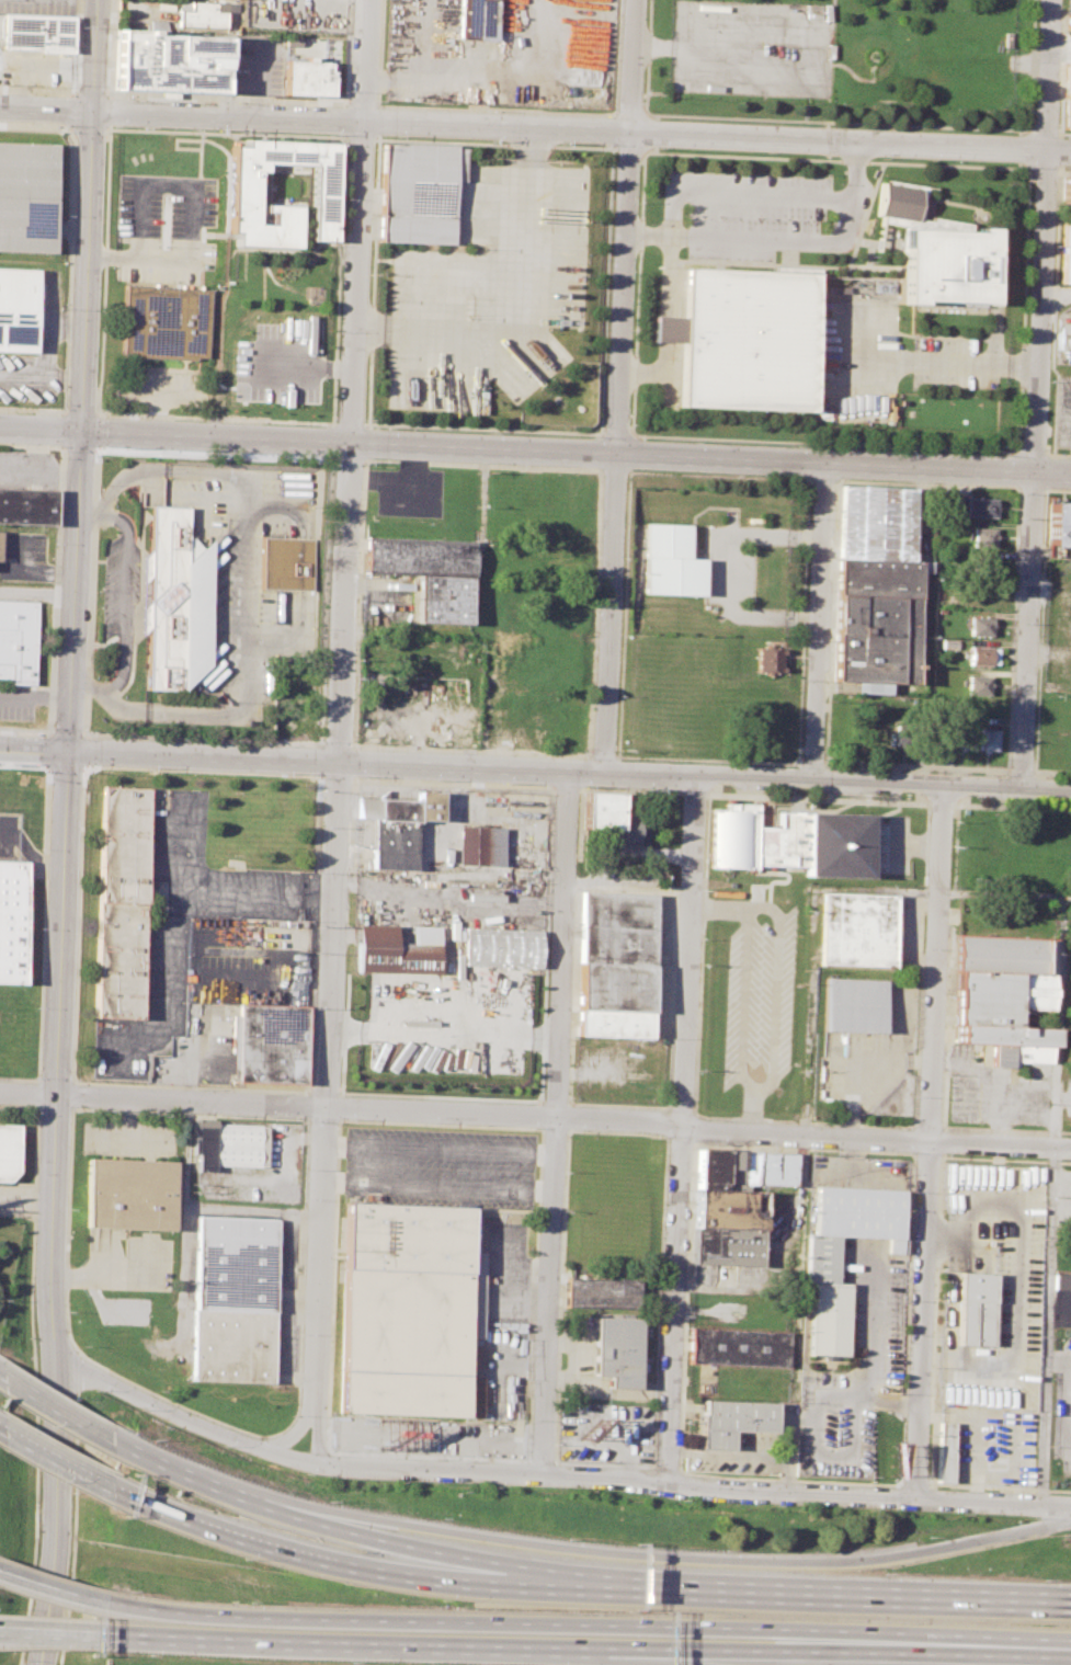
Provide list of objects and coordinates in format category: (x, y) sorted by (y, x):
parking lot: (39, 5)
building: (198, 12)
parking lot: (295, 14)
building: (476, 20)
building: (1069, 22)
building: (37, 34)
road: (110, 47)
road: (659, 47)
parking lot: (753, 49)
parking lot: (501, 53)
road: (96, 54)
road: (346, 54)
road: (378, 54)
road: (615, 57)
road: (646, 57)
building: (168, 62)
road: (1030, 65)
road: (1061, 71)
building: (309, 77)
road: (819, 79)
road: (78, 82)
road: (89, 91)
road: (225, 99)
building: (1068, 99)
road: (361, 104)
road: (46, 106)
road: (494, 111)
road: (628, 115)
road: (342, 119)
road: (376, 122)
road: (835, 122)
street lamp: (112, 126)
road: (106, 128)
road: (582, 129)
road: (1044, 130)
street lamp: (65, 132)
road: (342, 134)
road: (270, 135)
road: (105, 136)
road: (360, 137)
road: (236, 140)
road: (107, 142)
road: (493, 142)
road: (174, 144)
road: (627, 148)
road: (198, 155)
road: (833, 160)
road: (1039, 169)
road: (1055, 170)
road: (269, 182)
road: (164, 187)
building: (246, 187)
building: (1064, 190)
building: (418, 191)
road: (224, 192)
road: (854, 194)
building: (25, 196)
road: (671, 202)
parking lot: (747, 212)
street lamp: (65, 214)
road: (304, 227)
parking lot: (163, 228)
road: (228, 235)
road: (202, 238)
road: (324, 243)
building: (936, 249)
road: (267, 250)
building: (1064, 252)
road: (138, 260)
road: (312, 261)
road: (88, 270)
road: (261, 273)
road: (335, 277)
road: (198, 280)
road: (371, 281)
parking lot: (488, 289)
road: (605, 290)
road: (636, 293)
road: (508, 295)
road: (219, 297)
road: (666, 301)
building: (15, 308)
street lamp: (64, 308)
road: (1051, 316)
building: (162, 322)
building: (670, 329)
road: (995, 335)
road: (47, 337)
building: (749, 340)
road: (133, 361)
parking lot: (280, 363)
road: (893, 363)
road: (182, 365)
road: (303, 366)
parking lot: (950, 366)
road: (159, 368)
road: (42, 378)
road: (620, 386)
parking lot: (158, 390)
road: (158, 395)
road: (1036, 395)
street lamp: (99, 409)
road: (32, 410)
road: (78, 412)
parking lot: (1061, 412)
road: (155, 414)
road: (214, 418)
road: (347, 423)
street lamp: (386, 427)
road: (482, 429)
road: (42, 431)
traffic signals: (83, 432)
road: (616, 434)
street lamp: (593, 436)
road: (330, 440)
street lamp: (695, 441)
road: (365, 442)
street lamp: (796, 446)
street lamp: (58, 447)
road: (79, 448)
road: (964, 448)
street lamp: (153, 451)
street lamp: (904, 451)
road: (1034, 453)
street lamp: (247, 454)
road: (213, 455)
road: (577, 455)
street lamp: (1002, 455)
road: (330, 457)
road: (365, 458)
road: (331, 459)
road: (349, 459)
road: (480, 465)
road: (613, 470)
road: (717, 475)
road: (823, 481)
street lamp: (101, 484)
road: (926, 486)
road: (1032, 490)
street lamp: (1019, 495)
building: (26, 505)
building: (973, 509)
building: (878, 524)
building: (1057, 525)
building: (985, 538)
road: (480, 543)
street lamp: (53, 545)
building: (558, 554)
parking lot: (23, 556)
building: (670, 560)
road: (23, 561)
building: (982, 563)
building: (288, 564)
parking lot: (250, 570)
road: (56, 571)
building: (428, 573)
road: (728, 573)
parking lot: (121, 584)
road: (56, 585)
road: (246, 586)
road: (22, 589)
road: (75, 590)
street lamp: (96, 590)
road: (125, 597)
building: (175, 603)
road: (1041, 619)
building: (878, 623)
street lamp: (1015, 623)
road: (817, 624)
parking lot: (1057, 624)
building: (982, 628)
building: (16, 639)
building: (984, 658)
building: (772, 661)
street lamp: (93, 666)
building: (980, 686)
building: (377, 688)
street lamp: (617, 696)
road: (35, 697)
street lamp: (228, 700)
parking lot: (16, 704)
street lamp: (146, 722)
street lamp: (89, 731)
road: (340, 731)
road: (68, 733)
building: (876, 734)
building: (907, 735)
building: (935, 737)
building: (962, 738)
building: (987, 739)
street lamp: (180, 740)
street lamp: (315, 740)
street lamp: (1010, 742)
road: (34, 748)
road: (84, 749)
road: (49, 750)
traffic signals: (69, 750)
road: (578, 754)
road: (335, 761)
road: (66, 766)
road: (83, 766)
street lamp: (851, 768)
street lamp: (870, 768)
street lamp: (43, 772)
street lamp: (927, 772)
street lamp: (967, 773)
street lamp: (1001, 775)
street lamp: (1045, 776)
road: (335, 777)
street lamp: (357, 778)
street lamp: (431, 780)
street lamp: (504, 783)
road: (836, 783)
road: (550, 787)
street lamp: (584, 787)
street lamp: (191, 789)
street lamp: (642, 789)
street lamp: (777, 789)
street lamp: (235, 791)
street lamp: (760, 792)
street lamp: (578, 794)
street lamp: (919, 794)
street lamp: (320, 795)
street lamp: (848, 796)
street lamp: (868, 796)
street lamp: (966, 796)
street lamp: (1000, 802)
road: (942, 803)
street lamp: (1070, 805)
street lamp: (703, 810)
road: (317, 816)
building: (609, 818)
street lamp: (953, 821)
road: (772, 822)
building: (399, 826)
building: (730, 837)
building: (822, 841)
building: (478, 844)
street lamp: (41, 848)
street lamp: (186, 853)
street lamp: (233, 855)
road: (787, 868)
road: (1000, 896)
building: (119, 902)
road: (717, 906)
road: (762, 906)
building: (12, 917)
road: (44, 917)
street lamp: (305, 919)
street lamp: (573, 925)
street lamp: (316, 926)
street lamp: (39, 927)
building: (857, 932)
street lamp: (698, 937)
building: (500, 948)
street lamp: (921, 949)
building: (394, 950)
parking lot: (203, 951)
building: (614, 963)
road: (950, 971)
building: (1009, 997)
parking lot: (756, 1004)
building: (856, 1005)
street lamp: (36, 1007)
street lamp: (314, 1007)
road: (1060, 1019)
street lamp: (569, 1037)
road: (73, 1041)
building: (271, 1042)
parking lot: (875, 1060)
road: (862, 1071)
street lamp: (33, 1077)
road: (57, 1081)
road: (324, 1092)
road: (1064, 1098)
parking lot: (1068, 1102)
road: (1002, 1107)
road: (55, 1108)
street lamp: (75, 1111)
street lamp: (162, 1113)
road: (462, 1113)
road: (752, 1113)
road: (697, 1114)
street lamp: (265, 1116)
street lamp: (345, 1120)
street lamp: (308, 1121)
road: (556, 1121)
road: (324, 1125)
street lamp: (526, 1127)
road: (566, 1128)
road: (679, 1129)
street lamp: (572, 1130)
street lamp: (659, 1134)
road: (665, 1139)
road: (924, 1141)
street lamp: (715, 1143)
road: (996, 1143)
building: (227, 1147)
road: (438, 1149)
building: (10, 1151)
street lamp: (80, 1151)
street lamp: (904, 1152)
road: (307, 1156)
road: (944, 1156)
parking lot: (437, 1167)
building: (743, 1167)
street lamp: (565, 1171)
parking lot: (857, 1171)
road: (437, 1187)
building: (127, 1194)
road: (27, 1197)
street lamp: (305, 1199)
road: (55, 1208)
street lamp: (69, 1208)
road: (254, 1211)
building: (728, 1227)
road: (185, 1228)
building: (819, 1267)
road: (123, 1278)
building: (1061, 1281)
parking lot: (990, 1286)
building: (601, 1292)
building: (232, 1299)
building: (407, 1309)
street lamp: (560, 1310)
building: (975, 1310)
street lamp: (69, 1311)
road: (1045, 1325)
parking lot: (500, 1326)
road: (933, 1326)
street lamp: (299, 1335)
building: (738, 1347)
building: (617, 1350)
road: (1055, 1358)
road: (1068, 1358)
parking lot: (852, 1359)
road: (34, 1367)
road: (1012, 1368)
road: (75, 1370)
road: (0, 1378)
street lamp: (95, 1390)
road: (814, 1399)
street lamp: (71, 1400)
parking lot: (1060, 1403)
road: (1063, 1406)
street lamp: (141, 1409)
road: (56, 1410)
street lamp: (290, 1414)
street lamp: (529, 1418)
road: (304, 1421)
building: (731, 1422)
road: (309, 1424)
road: (0, 1433)
parking lot: (604, 1433)
street lamp: (554, 1444)
street lamp: (221, 1445)
parking lot: (992, 1445)
building: (944, 1451)
parking lot: (736, 1453)
road: (56, 1461)
street lamp: (305, 1473)
road: (548, 1473)
street lamp: (899, 1475)
road: (195, 1476)
street lamp: (399, 1482)
road: (899, 1483)
street lamp: (493, 1487)
street lamp: (588, 1492)
street lamp: (72, 1493)
street lamp: (682, 1501)
street lamp: (776, 1506)
street lamp: (869, 1509)
street lamp: (965, 1514)
street lamp: (1033, 1517)
road: (75, 1529)
road: (459, 1555)
road: (676, 1555)
road: (371, 1572)
street lamp: (67, 1577)
road: (52, 1588)
road: (857, 1593)
road: (417, 1623)
road: (50, 1632)
road: (901, 1642)
road: (344, 1644)
road: (659, 1644)
road: (637, 1658)
street lamp: (22, 1664)

